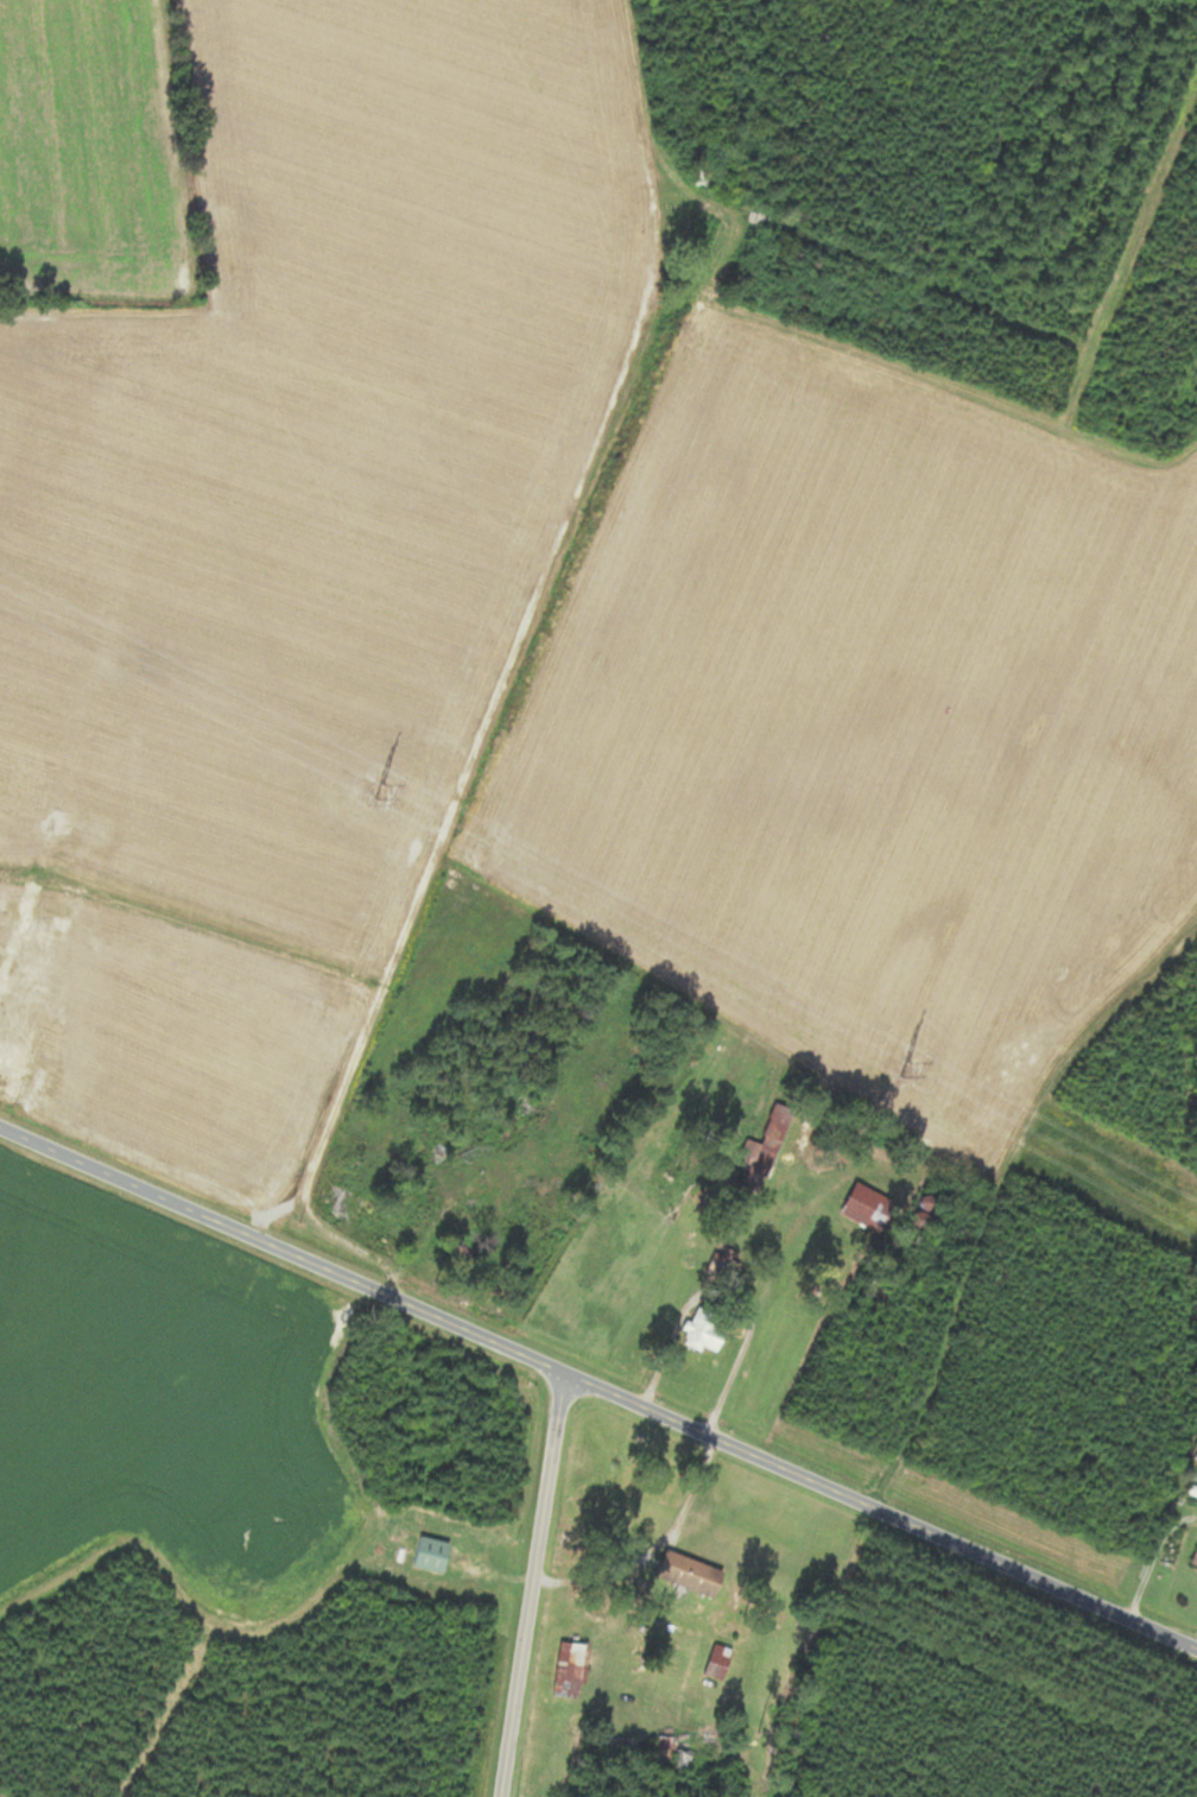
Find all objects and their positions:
power tower: (374, 792)
building: (88, 828)
building: (6, 886)
building: (56, 898)
building: (1, 923)
building: (12, 1013)
power tower: (901, 1069)
building: (753, 1165)
building: (323, 1195)
building: (859, 1204)
building: (701, 1334)
road: (598, 1388)
building: (1189, 1550)
road: (533, 1586)
building: (709, 1660)
building: (560, 1669)

